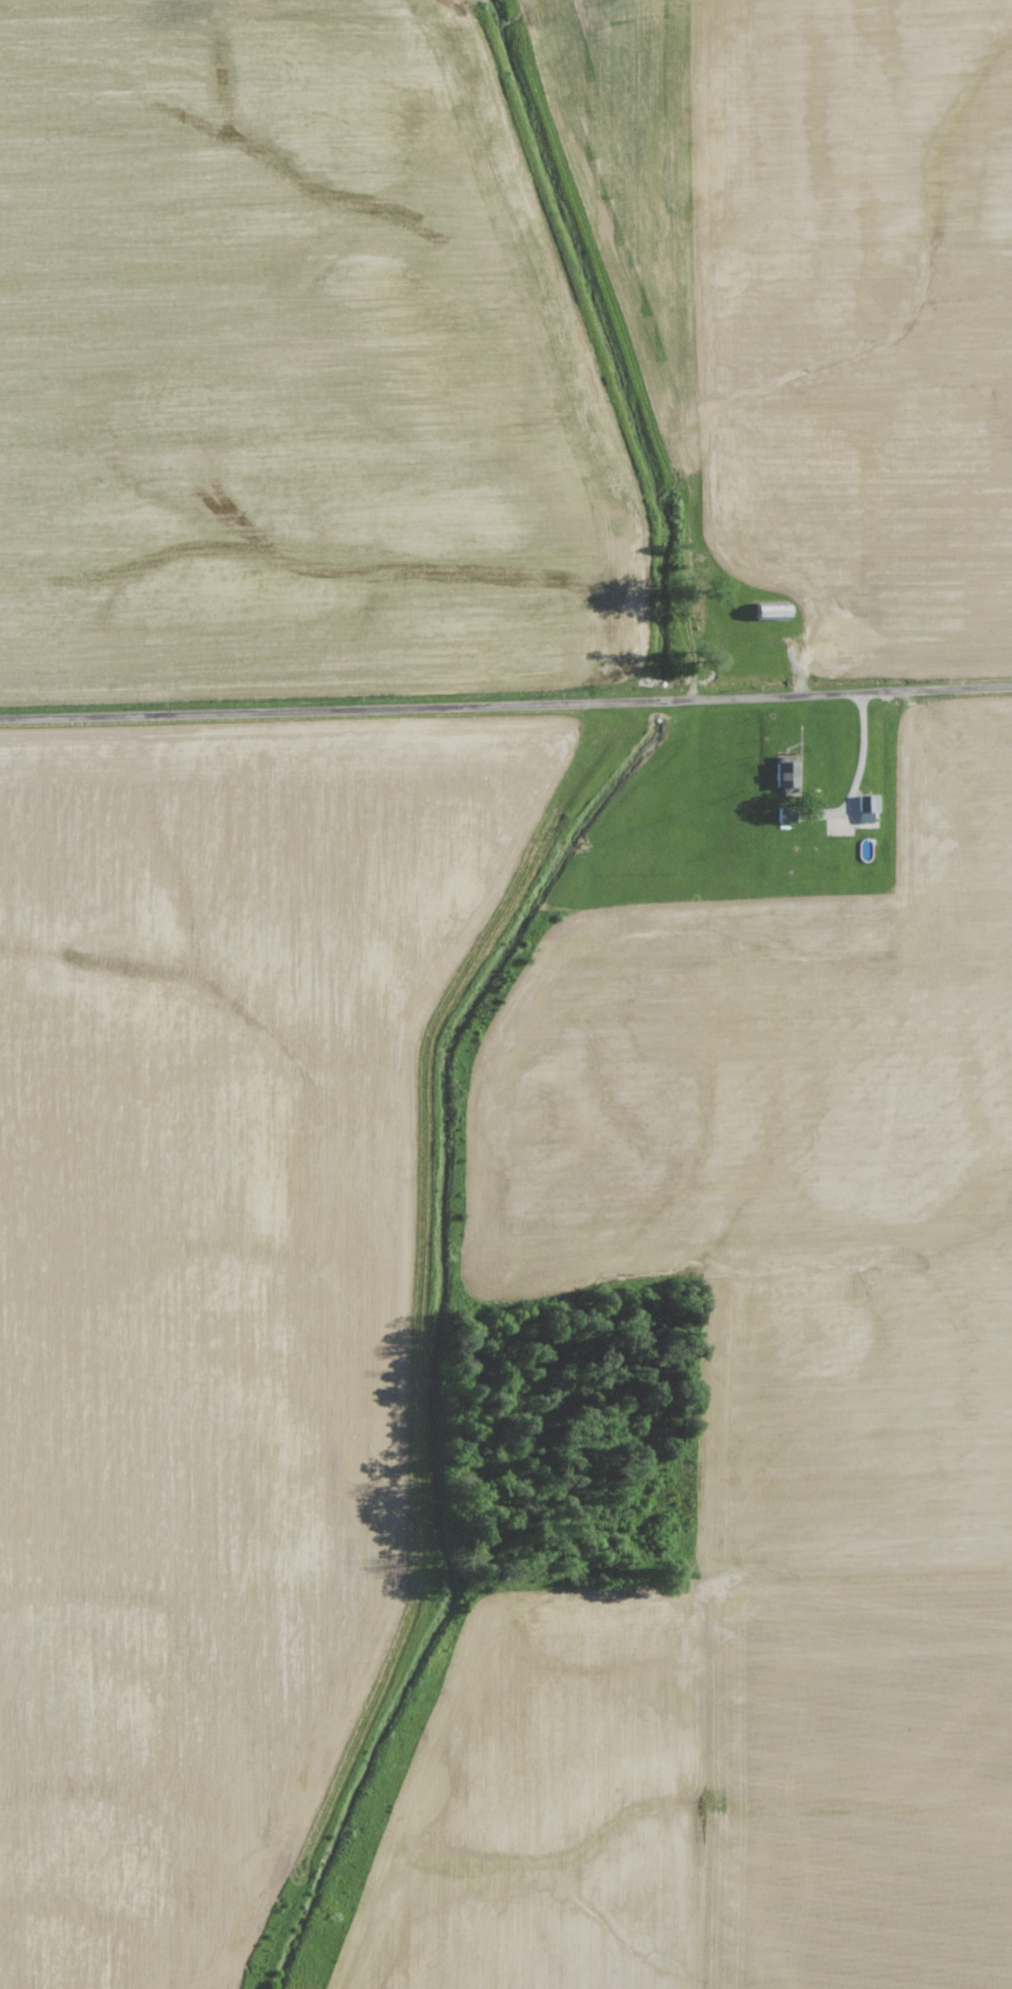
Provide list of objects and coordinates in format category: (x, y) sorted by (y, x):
road: (506, 688)
building: (788, 816)

